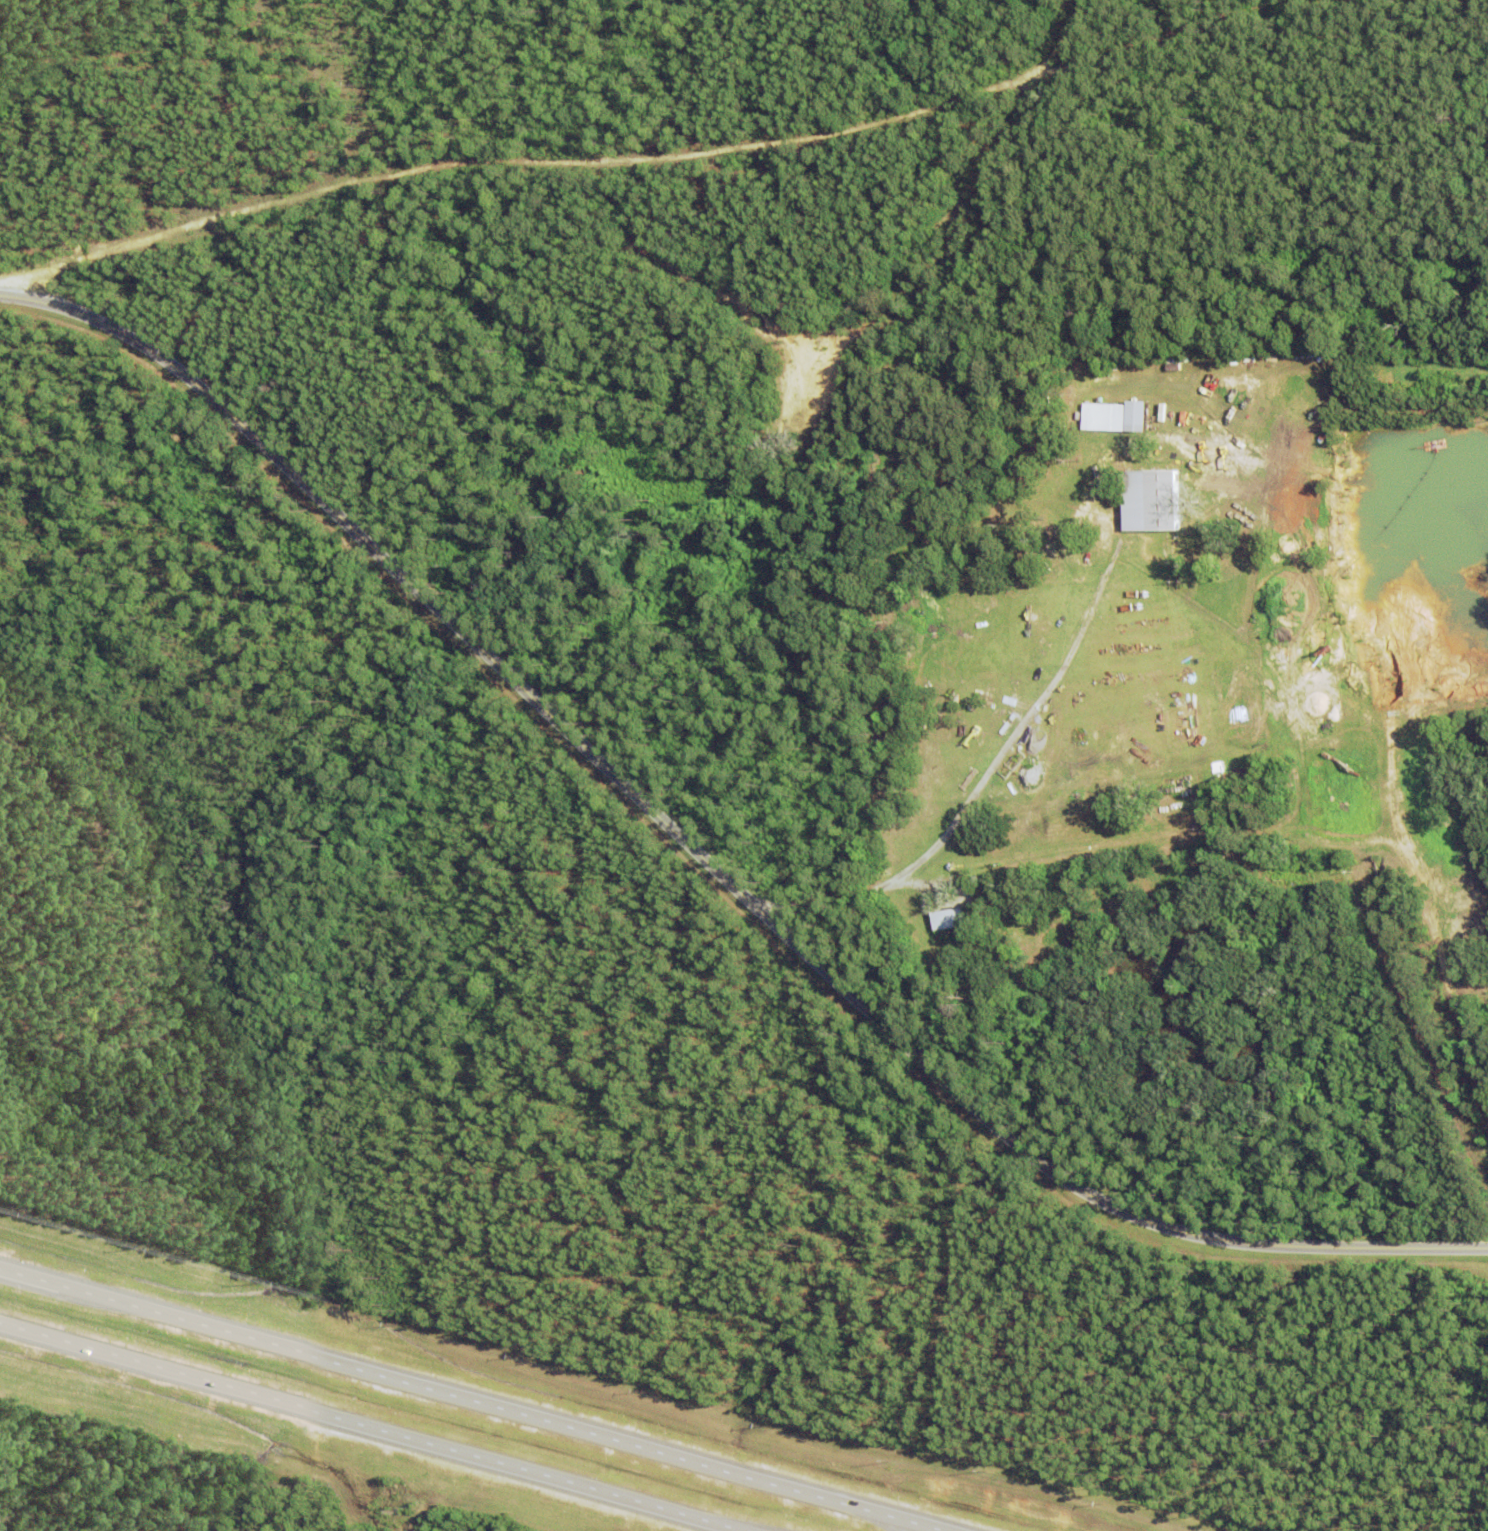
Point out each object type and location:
road: (1204, 37)
road: (557, 164)
building: (1113, 416)
building: (1106, 444)
building: (1162, 500)
building: (1336, 746)
road: (990, 776)
building: (1345, 796)
road: (708, 858)
building: (947, 917)
road: (1446, 976)
road: (458, 1395)
road: (372, 1426)
road: (916, 1527)
road: (929, 1527)

